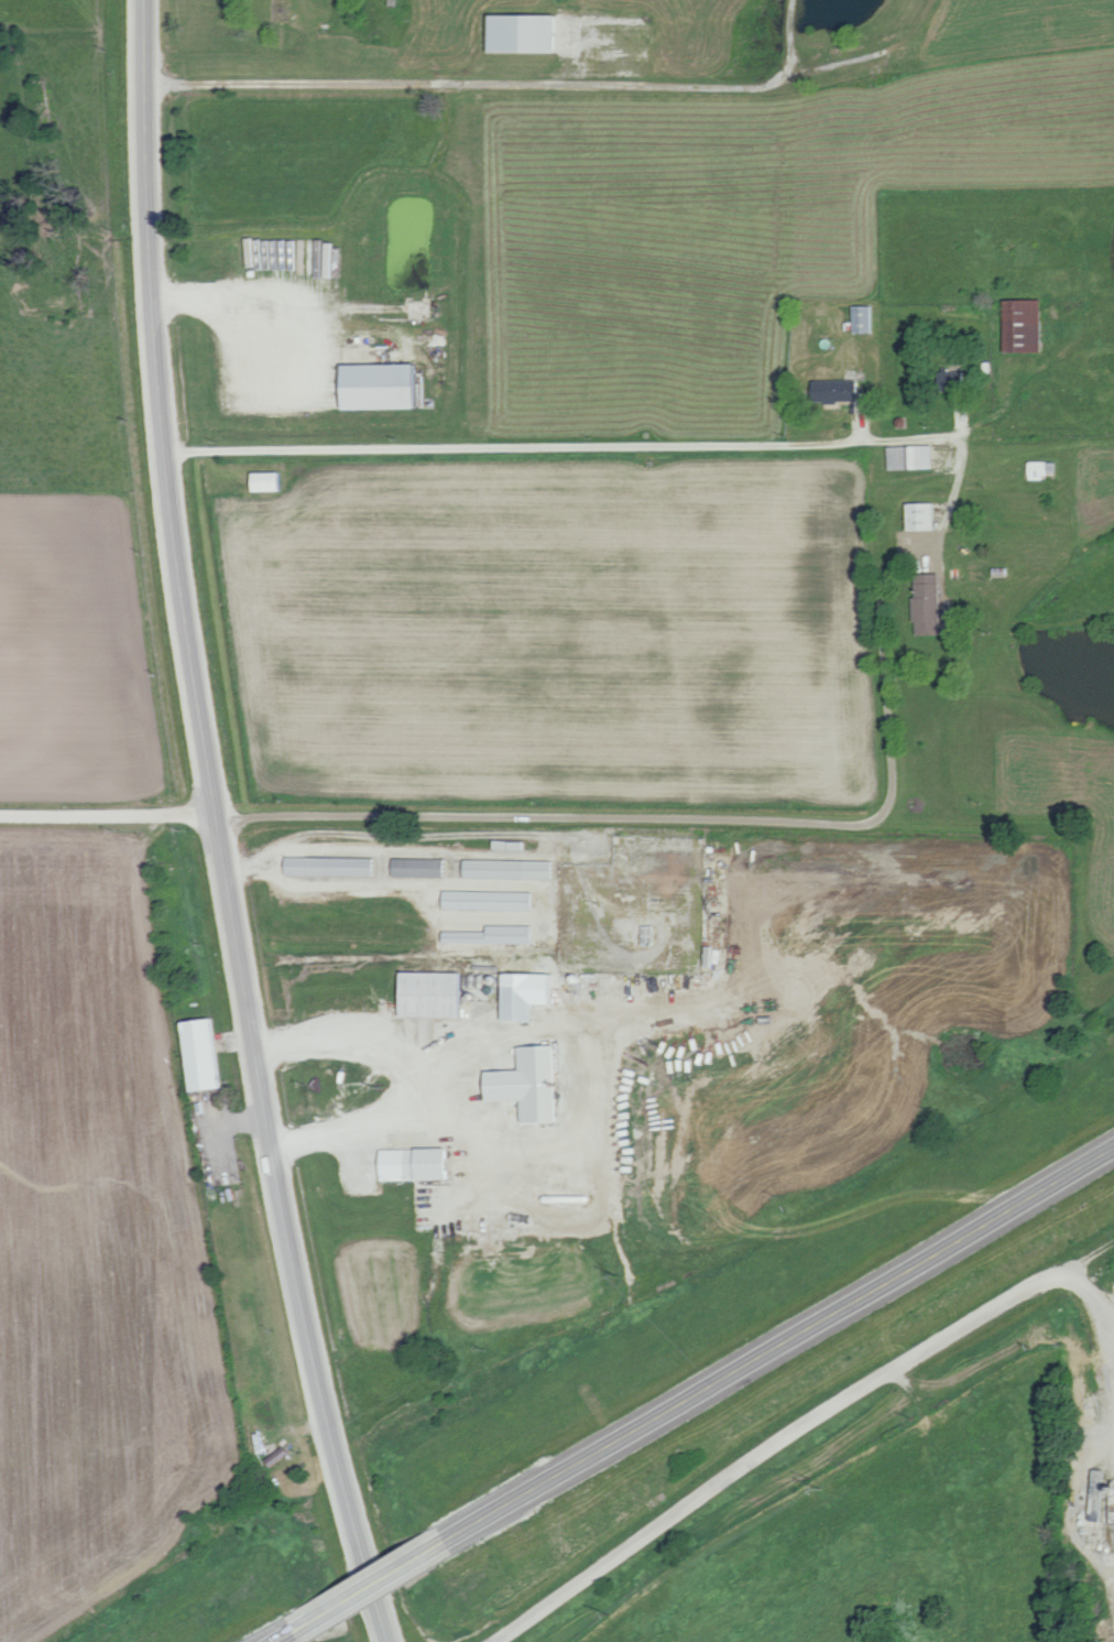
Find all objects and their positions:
building: (529, 33)
road: (242, 56)
road: (506, 88)
building: (865, 319)
building: (1028, 326)
building: (385, 387)
building: (837, 391)
road: (629, 447)
building: (913, 457)
building: (1042, 469)
building: (272, 481)
building: (922, 516)
building: (930, 607)
road: (107, 815)
road: (583, 817)
road: (215, 828)
building: (334, 866)
building: (423, 868)
building: (512, 869)
building: (491, 900)
building: (496, 935)
building: (437, 993)
building: (533, 993)
building: (205, 1054)
road: (405, 1081)
building: (533, 1084)
building: (419, 1163)
road: (1100, 1326)
road: (779, 1347)
road: (795, 1431)
building: (1100, 1496)
road: (376, 1586)
road: (295, 1634)

